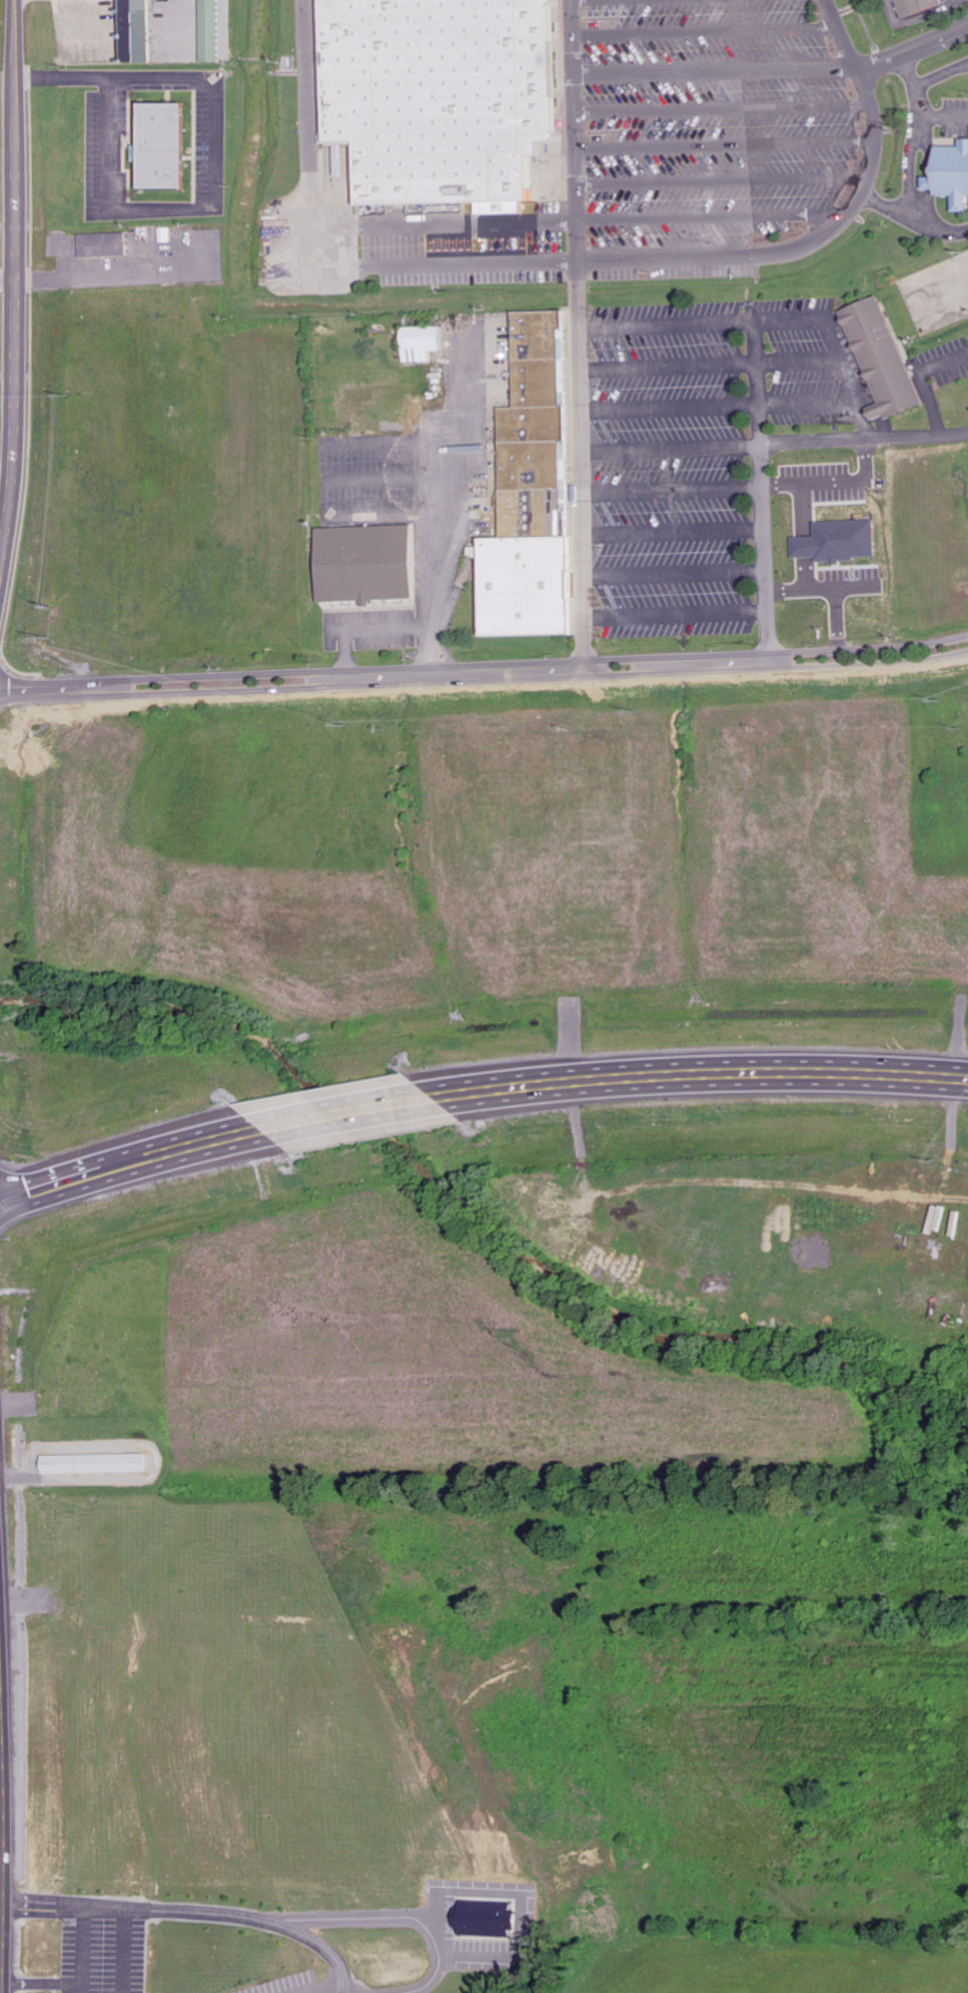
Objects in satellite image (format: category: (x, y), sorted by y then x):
building: (916, 6)
building: (142, 26)
road: (706, 29)
road: (916, 48)
road: (718, 68)
road: (913, 68)
road: (14, 74)
road: (941, 74)
road: (306, 84)
building: (442, 95)
road: (723, 106)
road: (944, 117)
road: (726, 142)
building: (168, 147)
building: (950, 169)
road: (722, 181)
road: (911, 182)
road: (883, 206)
road: (709, 217)
road: (466, 222)
road: (828, 229)
road: (311, 235)
road: (336, 241)
building: (109, 243)
road: (467, 263)
road: (790, 323)
road: (667, 327)
building: (534, 334)
road: (579, 337)
building: (418, 342)
road: (13, 359)
road: (799, 363)
road: (669, 367)
road: (847, 380)
building: (535, 382)
road: (808, 403)
road: (670, 408)
building: (528, 423)
road: (865, 439)
road: (671, 447)
building: (529, 465)
road: (836, 482)
road: (765, 488)
road: (673, 490)
building: (530, 500)
building: (530, 524)
road: (807, 537)
building: (836, 541)
building: (362, 562)
building: (524, 585)
road: (826, 589)
road: (838, 619)
road: (484, 663)
road: (484, 679)
road: (703, 1072)
road: (352, 1113)
road: (131, 1166)
building: (491, 1921)

